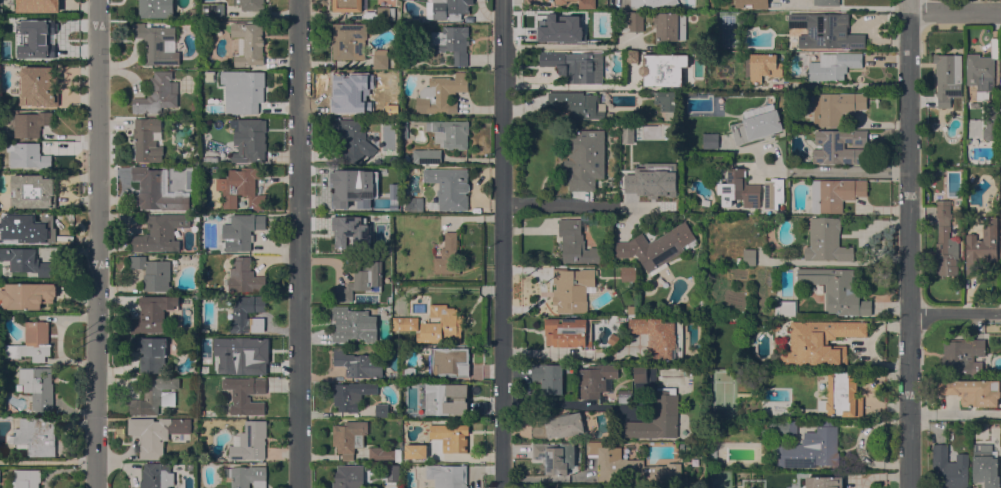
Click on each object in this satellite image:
building: (561, 1)
building: (826, 2)
building: (586, 3)
building: (653, 3)
building: (250, 4)
building: (752, 4)
building: (347, 5)
building: (38, 6)
building: (156, 8)
building: (448, 8)
road: (842, 8)
building: (212, 9)
road: (955, 11)
building: (385, 13)
building: (631, 21)
building: (573, 24)
building: (669, 26)
building: (825, 30)
building: (33, 34)
building: (348, 40)
building: (451, 42)
building: (156, 43)
building: (248, 43)
road: (562, 46)
building: (10, 56)
building: (632, 57)
building: (209, 59)
building: (380, 59)
building: (575, 65)
building: (833, 65)
building: (762, 66)
building: (663, 69)
building: (983, 71)
building: (947, 77)
building: (1000, 85)
building: (38, 86)
road: (578, 86)
building: (249, 90)
building: (344, 92)
building: (158, 94)
building: (441, 94)
building: (665, 100)
building: (376, 102)
building: (975, 104)
building: (589, 106)
building: (194, 107)
building: (836, 107)
building: (990, 121)
building: (29, 123)
building: (756, 124)
building: (404, 129)
building: (631, 131)
building: (788, 131)
building: (450, 133)
building: (369, 137)
building: (145, 140)
building: (249, 140)
building: (352, 140)
building: (710, 140)
building: (967, 141)
building: (840, 146)
building: (28, 155)
building: (426, 156)
building: (408, 158)
building: (584, 158)
building: (212, 159)
building: (395, 160)
building: (937, 171)
road: (831, 172)
building: (1000, 174)
building: (649, 176)
building: (351, 182)
building: (788, 183)
building: (241, 187)
building: (448, 188)
building: (738, 189)
building: (158, 190)
building: (33, 191)
building: (773, 193)
building: (834, 194)
building: (414, 203)
building: (386, 204)
road: (557, 205)
building: (339, 221)
building: (27, 227)
building: (241, 231)
building: (160, 233)
building: (363, 235)
building: (826, 240)
building: (946, 240)
road: (502, 243)
building: (576, 243)
road: (908, 243)
road: (97, 244)
road: (300, 244)
building: (656, 247)
building: (981, 247)
building: (1000, 247)
building: (448, 255)
building: (747, 257)
building: (25, 261)
building: (153, 272)
building: (628, 273)
building: (244, 277)
building: (361, 279)
building: (572, 289)
road: (445, 290)
building: (836, 290)
building: (27, 295)
building: (786, 308)
building: (611, 310)
road: (954, 313)
building: (239, 314)
building: (154, 315)
building: (405, 323)
building: (353, 325)
building: (441, 325)
building: (775, 325)
building: (568, 332)
building: (660, 336)
building: (33, 341)
building: (820, 341)
building: (781, 344)
building: (150, 352)
road: (569, 353)
building: (961, 355)
building: (241, 358)
building: (449, 362)
building: (359, 363)
building: (409, 372)
building: (640, 373)
building: (548, 377)
building: (595, 380)
building: (38, 387)
building: (973, 391)
building: (245, 394)
building: (351, 394)
building: (154, 395)
building: (842, 395)
building: (624, 396)
building: (435, 398)
road: (566, 404)
building: (381, 410)
building: (201, 413)
road: (954, 414)
building: (657, 417)
building: (556, 425)
building: (780, 429)
building: (156, 433)
building: (36, 436)
building: (450, 436)
building: (349, 437)
building: (250, 440)
building: (681, 446)
building: (811, 448)
building: (416, 451)
building: (713, 452)
building: (384, 453)
building: (555, 456)
road: (47, 460)
building: (985, 465)
building: (630, 467)
building: (949, 468)
building: (392, 472)
building: (156, 475)
building: (447, 475)
building: (247, 476)
building: (349, 476)
building: (25, 479)
building: (823, 482)

